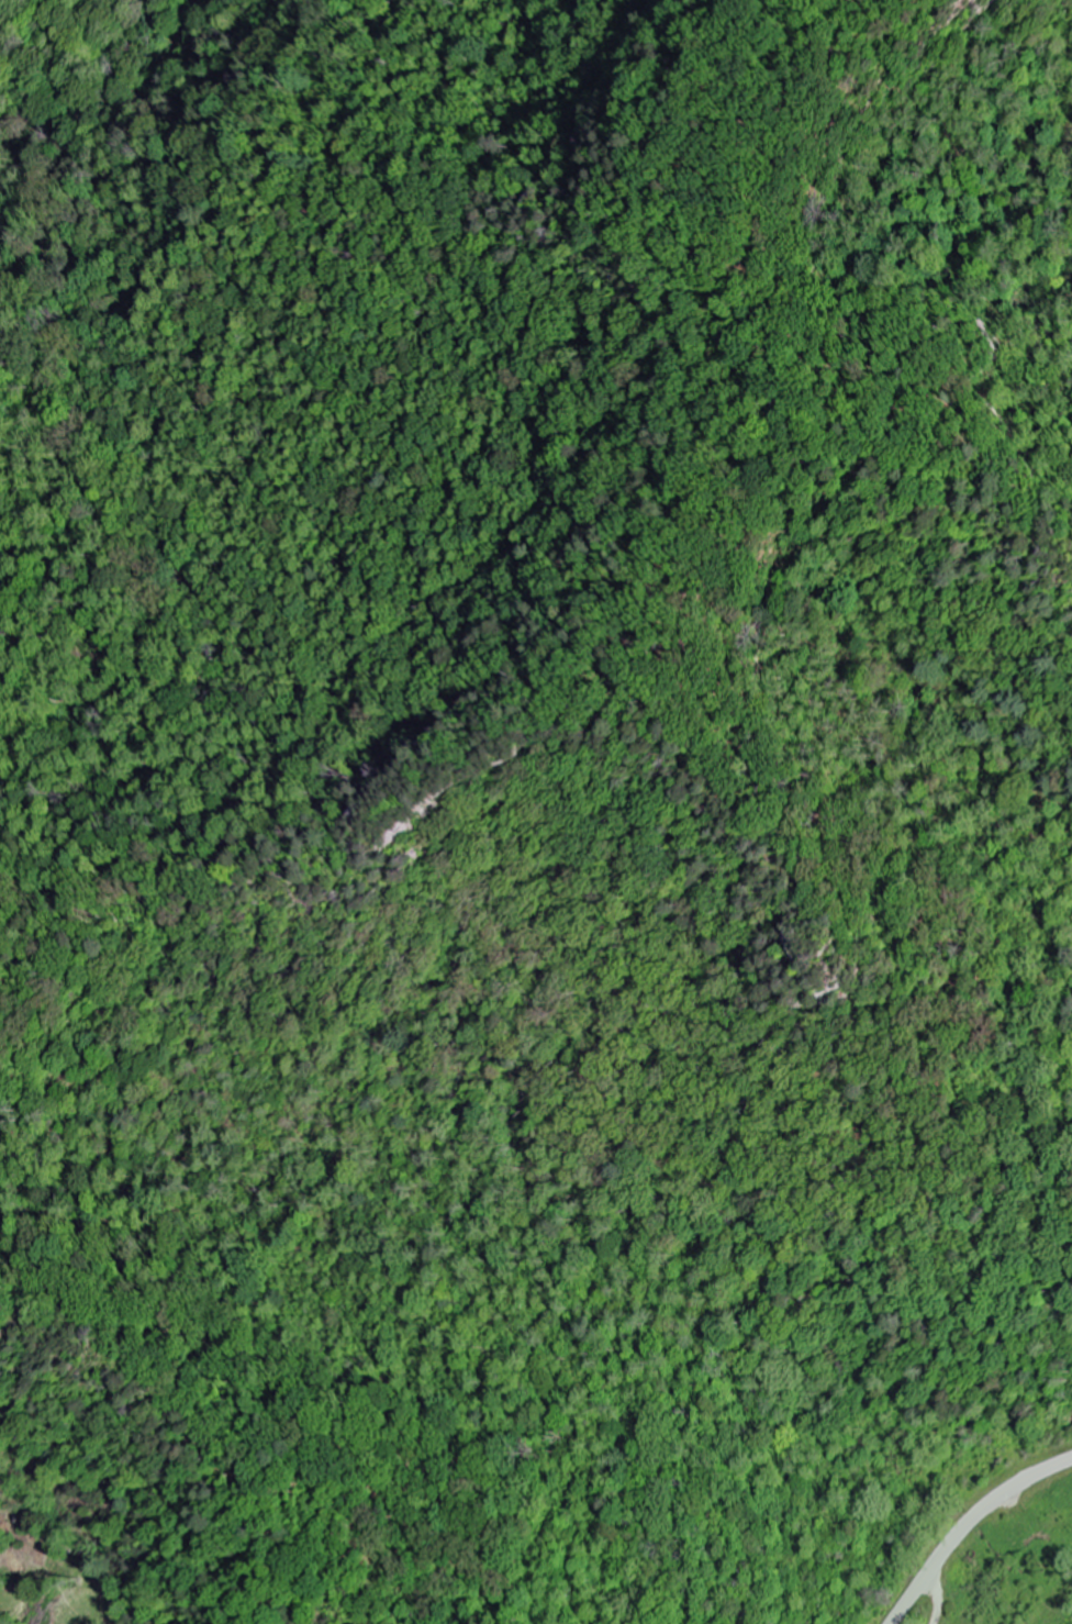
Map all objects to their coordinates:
road: (967, 1524)

